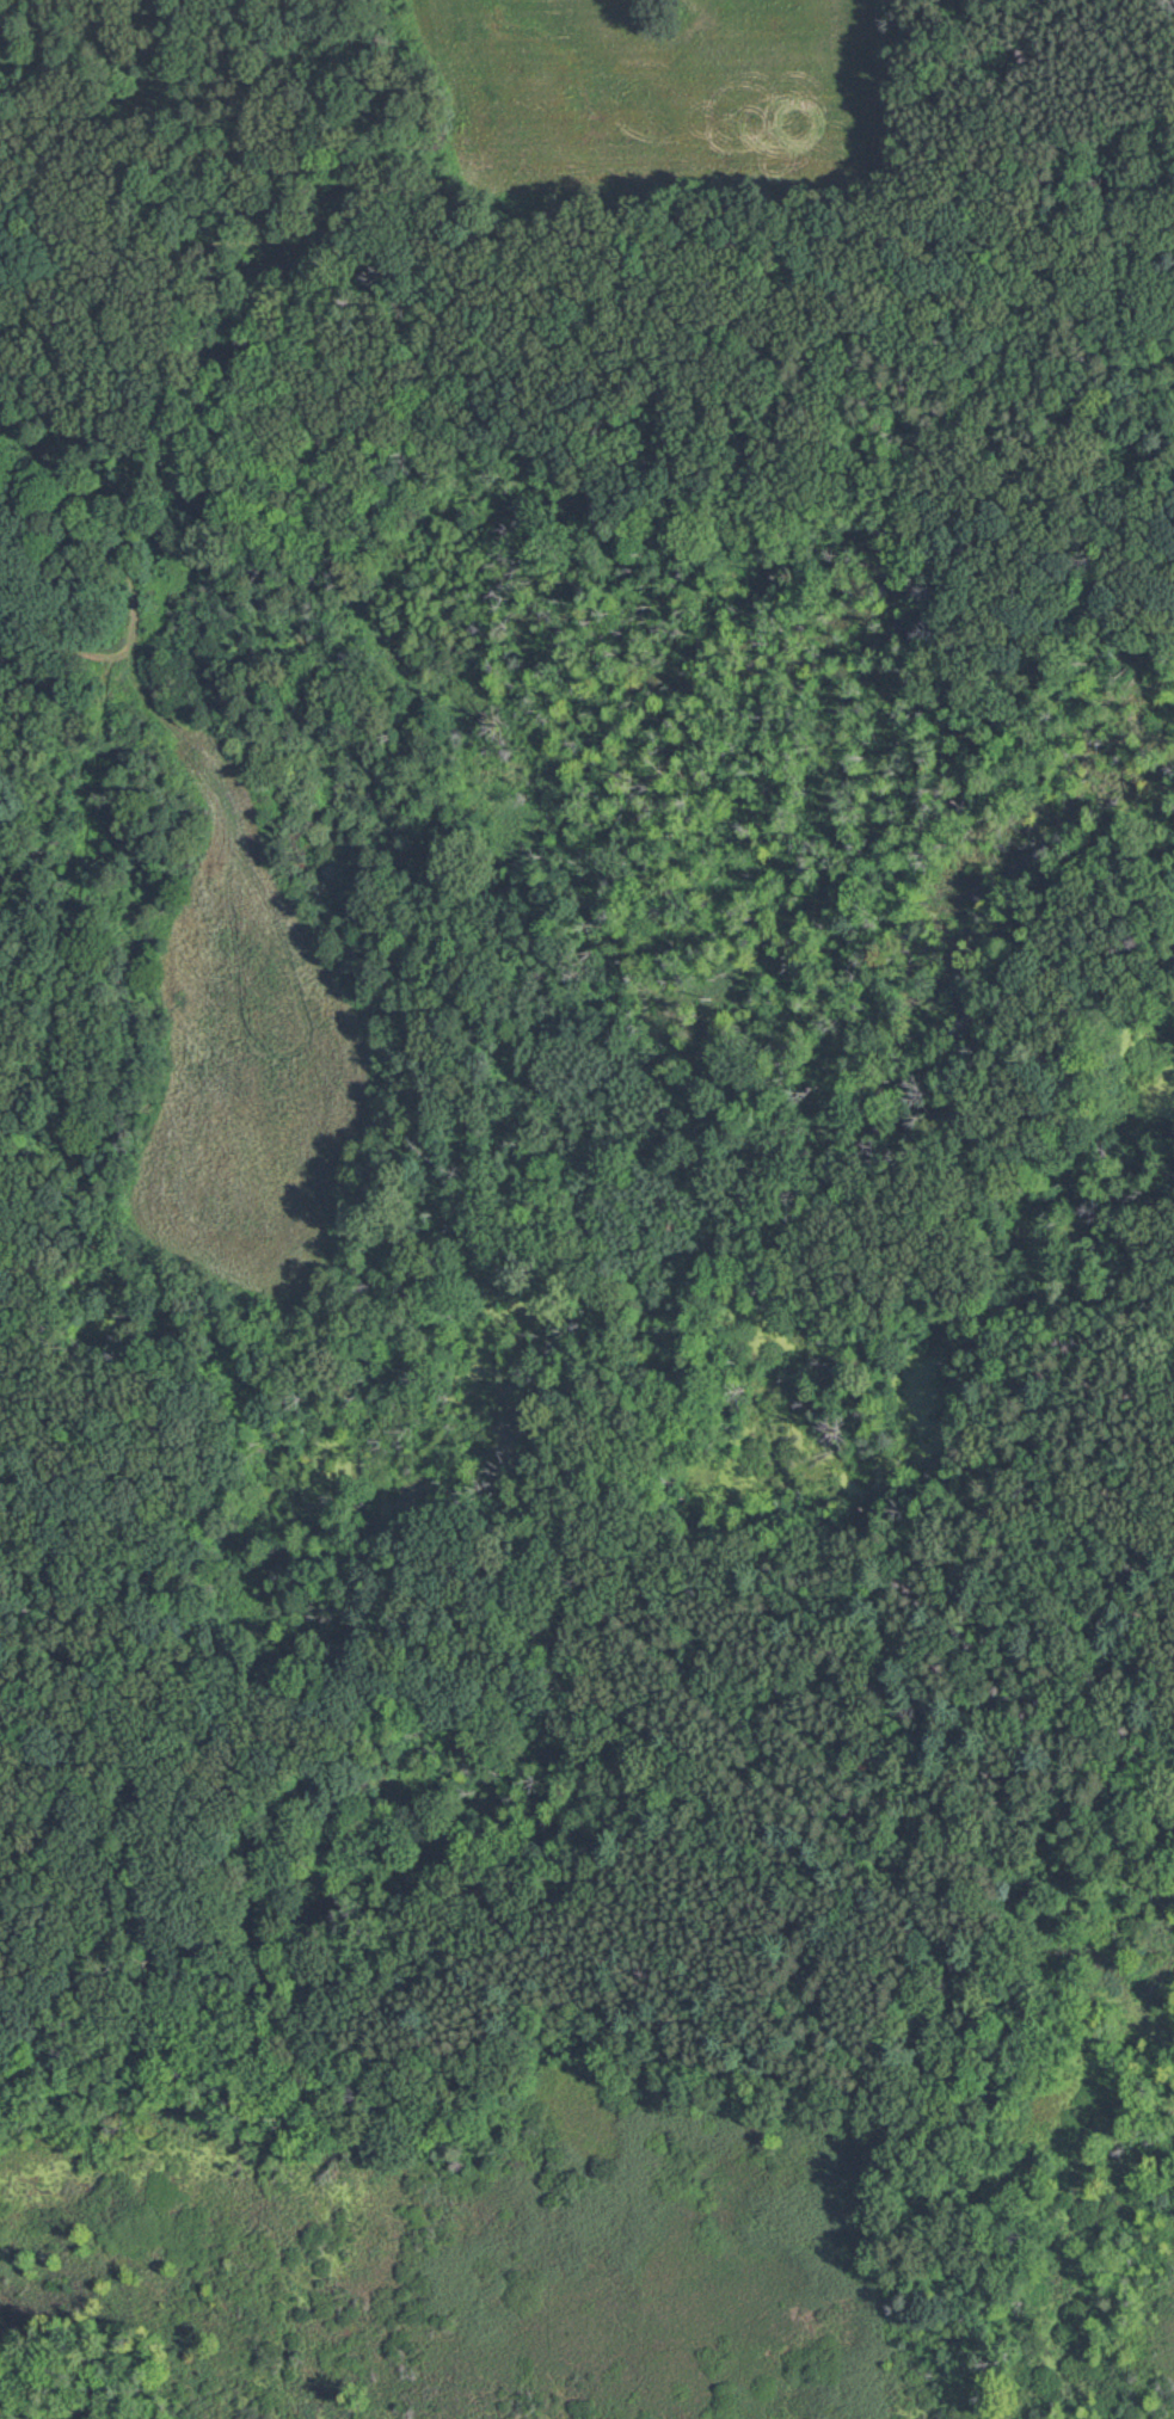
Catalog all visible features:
road: (393, 247)
road: (66, 641)
road: (62, 977)

